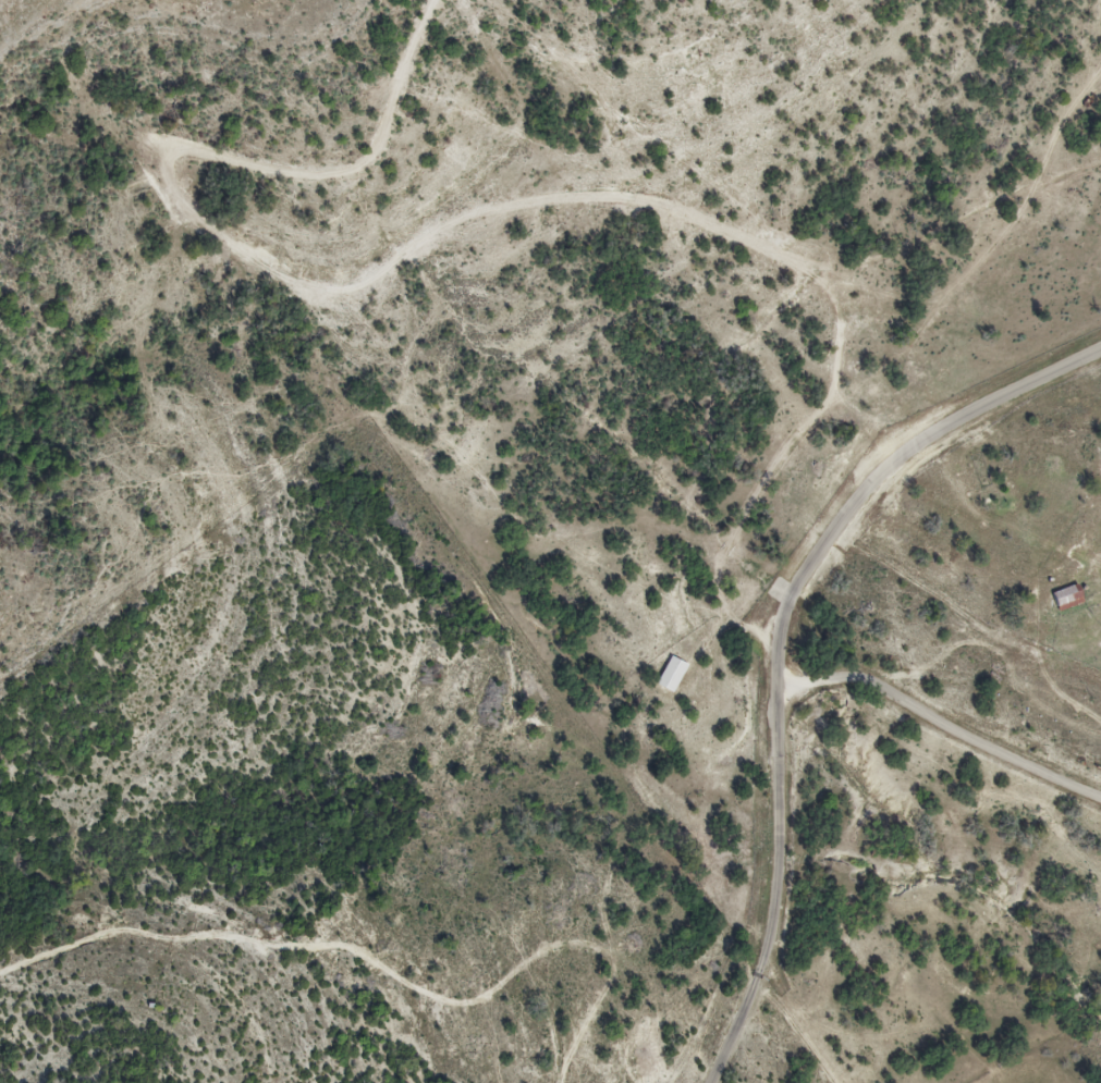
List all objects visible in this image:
road: (870, 484)
building: (1068, 599)
road: (779, 726)

